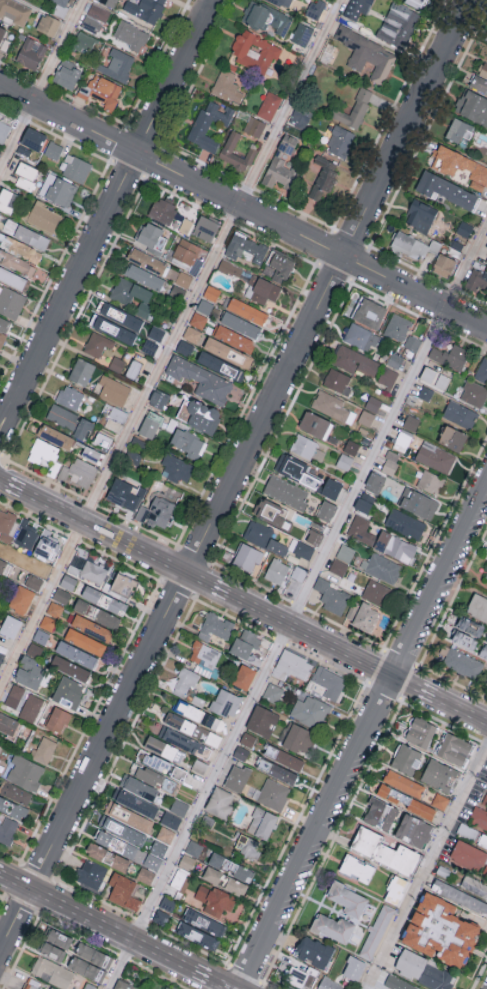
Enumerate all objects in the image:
building: (61, 1)
building: (109, 2)
building: (282, 2)
building: (416, 3)
building: (315, 8)
building: (355, 8)
building: (59, 9)
building: (145, 9)
building: (14, 11)
building: (94, 17)
building: (266, 17)
building: (47, 24)
building: (398, 24)
building: (2, 31)
building: (302, 33)
building: (130, 34)
building: (83, 41)
building: (254, 50)
building: (30, 52)
building: (367, 53)
building: (117, 64)
building: (484, 70)
building: (66, 74)
road: (41, 83)
building: (479, 83)
building: (227, 85)
building: (101, 90)
road: (288, 101)
building: (269, 105)
building: (472, 106)
building: (353, 109)
building: (300, 116)
building: (209, 124)
building: (254, 126)
building: (459, 129)
building: (4, 130)
building: (33, 138)
building: (340, 140)
building: (53, 149)
building: (236, 153)
building: (281, 162)
building: (460, 166)
building: (75, 167)
building: (26, 174)
building: (322, 177)
building: (57, 189)
building: (446, 189)
building: (8, 200)
road: (243, 206)
building: (162, 210)
road: (106, 215)
building: (420, 215)
building: (44, 217)
building: (3, 221)
building: (185, 225)
building: (205, 227)
building: (464, 228)
building: (151, 235)
building: (31, 236)
building: (413, 245)
building: (20, 246)
building: (245, 247)
building: (185, 251)
building: (146, 260)
building: (486, 263)
building: (20, 264)
building: (443, 264)
building: (279, 265)
building: (230, 268)
building: (144, 276)
building: (12, 277)
building: (180, 277)
building: (477, 280)
building: (120, 288)
building: (264, 290)
building: (211, 292)
building: (141, 299)
building: (10, 302)
building: (204, 306)
building: (247, 310)
building: (369, 312)
building: (120, 316)
building: (198, 320)
building: (3, 324)
building: (240, 324)
building: (397, 326)
building: (114, 328)
building: (156, 332)
building: (192, 333)
building: (360, 336)
building: (2, 338)
building: (234, 338)
building: (412, 342)
building: (97, 343)
building: (149, 346)
building: (184, 347)
building: (223, 350)
building: (450, 356)
building: (354, 360)
building: (394, 360)
road: (160, 362)
building: (117, 363)
building: (219, 365)
building: (133, 368)
building: (482, 370)
building: (81, 371)
building: (387, 377)
building: (434, 377)
building: (202, 380)
building: (337, 380)
building: (113, 390)
building: (425, 392)
building: (473, 393)
building: (69, 396)
building: (158, 399)
building: (372, 403)
building: (332, 406)
building: (118, 414)
building: (459, 414)
building: (202, 416)
building: (365, 417)
building: (69, 420)
road: (387, 421)
building: (410, 422)
building: (150, 424)
building: (315, 424)
building: (55, 436)
building: (452, 437)
building: (102, 439)
building: (402, 440)
building: (188, 443)
building: (303, 446)
building: (351, 447)
building: (43, 452)
building: (90, 453)
building: (133, 456)
building: (435, 457)
building: (344, 461)
building: (390, 462)
building: (177, 468)
building: (296, 470)
building: (79, 472)
road: (233, 474)
building: (430, 481)
building: (374, 482)
road: (12, 485)
building: (331, 488)
building: (285, 492)
building: (116, 495)
building: (364, 502)
building: (418, 503)
building: (326, 510)
building: (157, 512)
building: (270, 512)
building: (405, 523)
building: (7, 524)
road: (105, 532)
building: (27, 536)
building: (313, 536)
building: (264, 537)
building: (379, 539)
building: (47, 548)
building: (304, 550)
building: (345, 553)
building: (247, 557)
building: (5, 567)
building: (338, 567)
building: (381, 567)
building: (88, 569)
building: (276, 570)
building: (486, 575)
building: (33, 581)
building: (295, 581)
building: (68, 582)
road: (207, 583)
building: (124, 585)
building: (375, 592)
building: (62, 595)
building: (332, 596)
building: (21, 599)
building: (104, 600)
road: (41, 604)
building: (478, 606)
building: (55, 608)
road: (258, 608)
building: (97, 613)
building: (362, 615)
building: (48, 622)
building: (10, 626)
building: (216, 626)
building: (469, 626)
building: (92, 628)
building: (41, 636)
building: (464, 639)
building: (85, 641)
building: (486, 642)
building: (245, 643)
road: (341, 649)
building: (34, 650)
building: (483, 652)
building: (76, 654)
building: (204, 654)
building: (1, 657)
building: (461, 662)
building: (291, 665)
building: (70, 668)
building: (29, 672)
building: (244, 676)
building: (185, 681)
building: (329, 682)
road: (414, 686)
building: (68, 692)
building: (272, 692)
building: (14, 696)
building: (225, 702)
building: (31, 707)
road: (461, 709)
building: (310, 711)
building: (197, 714)
building: (58, 719)
building: (262, 720)
building: (9, 724)
building: (192, 728)
building: (420, 732)
building: (299, 738)
road: (363, 738)
building: (247, 739)
building: (185, 742)
building: (0, 747)
building: (164, 749)
building: (454, 749)
building: (43, 750)
building: (241, 753)
building: (406, 759)
building: (289, 760)
building: (154, 761)
building: (199, 766)
building: (25, 773)
building: (282, 773)
building: (438, 775)
building: (152, 777)
building: (237, 778)
building: (486, 779)
building: (404, 783)
building: (138, 787)
building: (15, 792)
building: (273, 794)
building: (485, 799)
building: (406, 801)
building: (440, 801)
building: (134, 802)
building: (220, 802)
road: (197, 805)
building: (13, 809)
building: (175, 814)
building: (380, 814)
building: (129, 816)
building: (479, 817)
building: (262, 823)
building: (122, 830)
building: (8, 831)
building: (414, 831)
building: (467, 831)
building: (165, 834)
building: (483, 840)
building: (116, 844)
building: (248, 846)
building: (159, 848)
building: (194, 848)
building: (384, 851)
building: (107, 856)
building: (470, 857)
building: (152, 861)
building: (187, 862)
road: (426, 865)
building: (231, 867)
building: (357, 868)
building: (92, 875)
building: (145, 875)
building: (178, 879)
road: (15, 880)
building: (224, 881)
building: (474, 886)
building: (396, 890)
building: (123, 893)
building: (460, 897)
building: (213, 898)
building: (347, 899)
building: (167, 903)
building: (160, 917)
road: (112, 928)
building: (332, 928)
building: (204, 929)
building: (376, 931)
building: (439, 931)
building: (61, 939)
building: (52, 952)
building: (313, 954)
building: (92, 956)
building: (87, 969)
building: (354, 969)
building: (424, 971)
building: (52, 972)
building: (299, 977)
road: (214, 979)
building: (398, 983)
building: (31, 984)
building: (329, 984)
building: (122, 985)
building: (88, 986)
building: (50, 988)
building: (166, 988)

